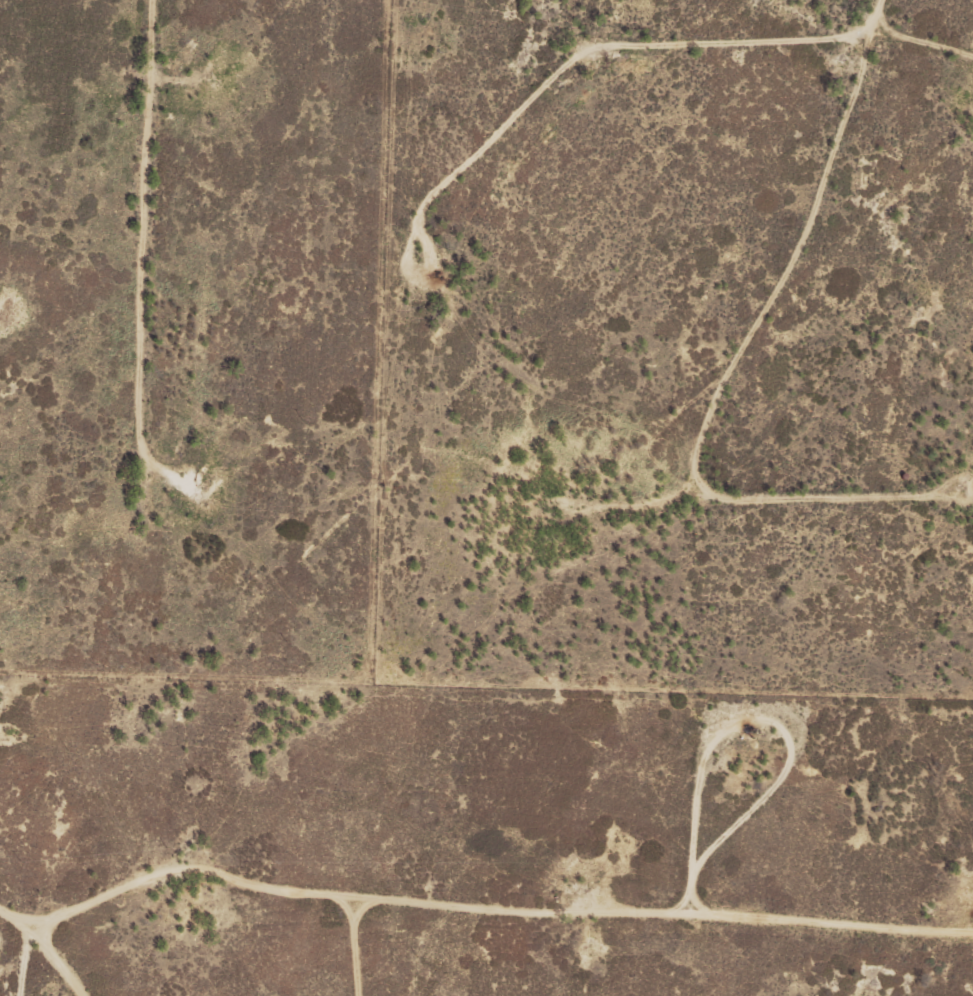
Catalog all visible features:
road: (819, 51)
road: (203, 340)
road: (785, 348)
road: (471, 894)
road: (119, 958)
road: (632, 961)

